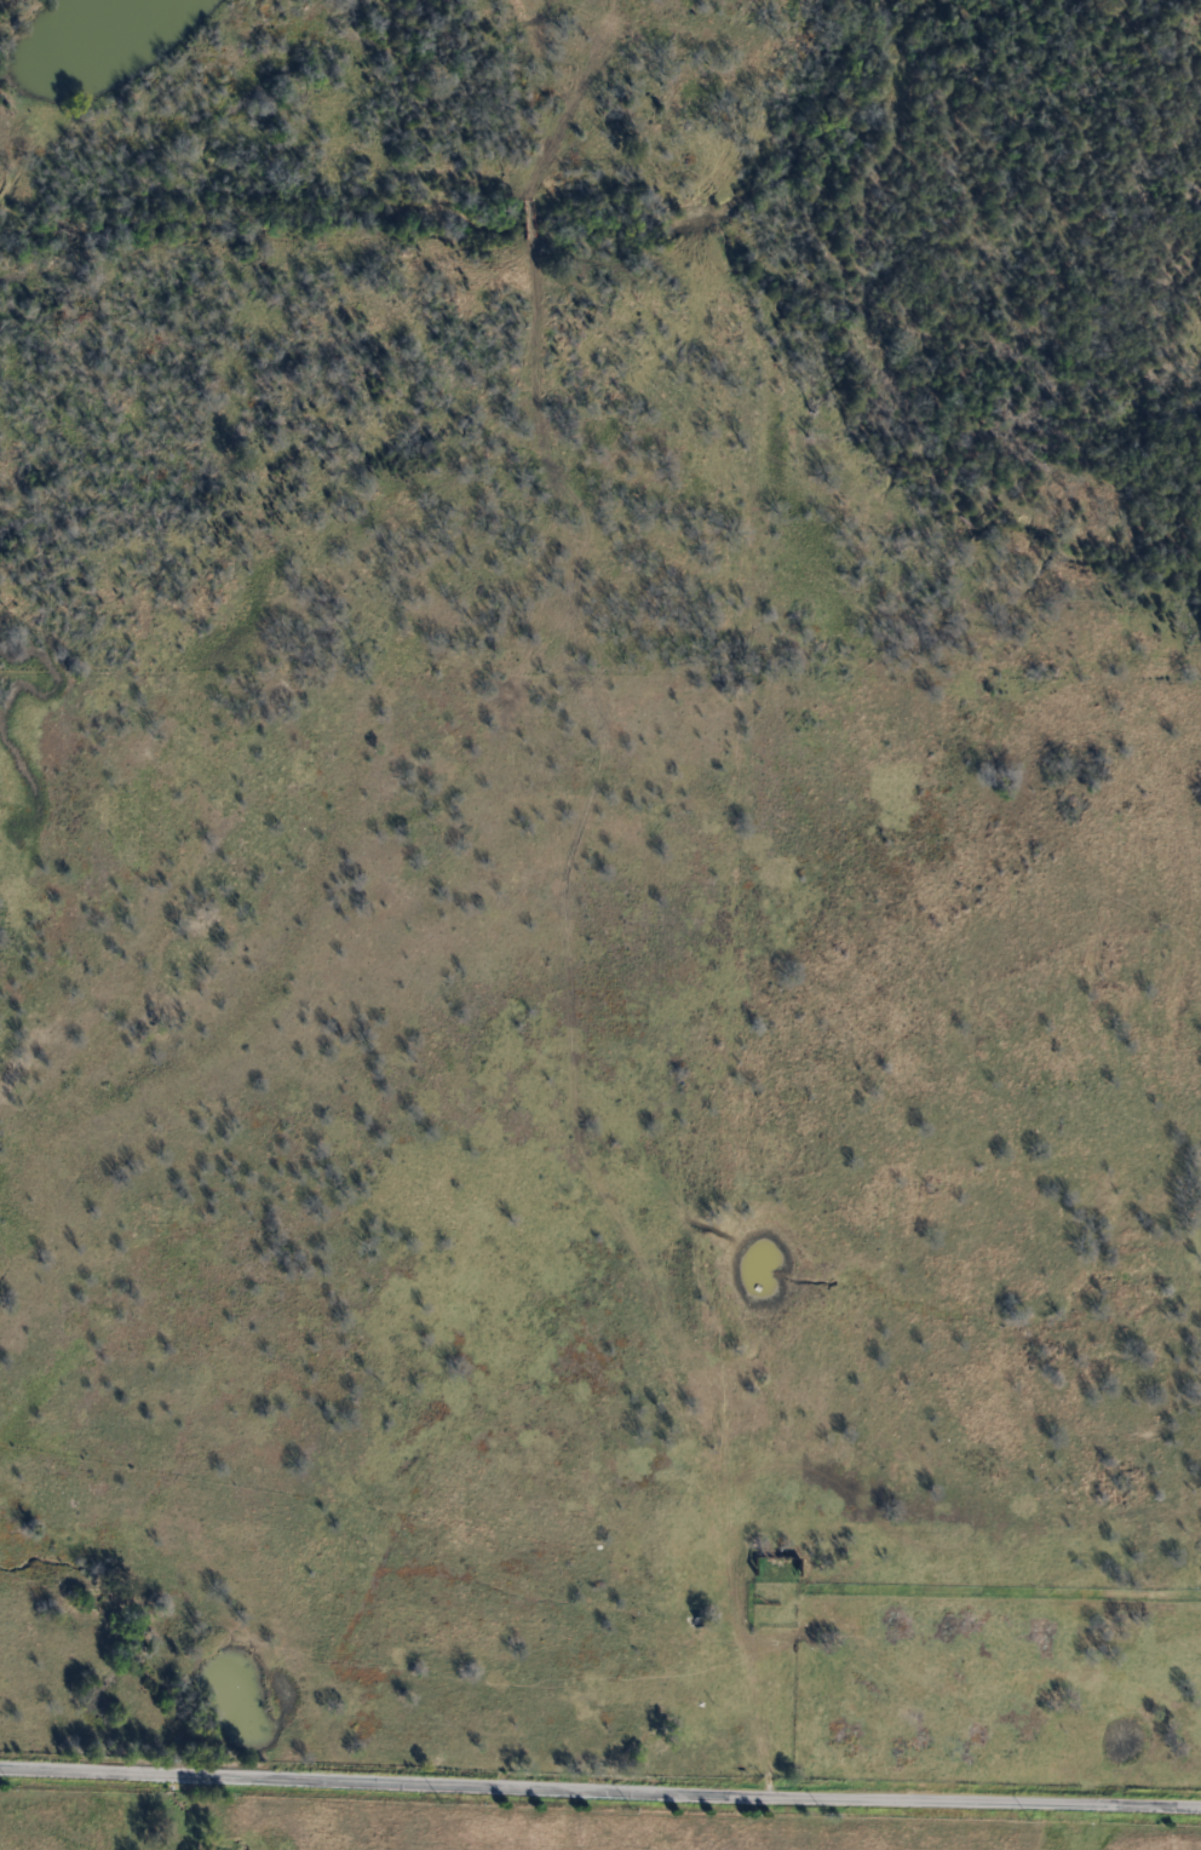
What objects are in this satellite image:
building: (777, 1567)
road: (600, 1791)

